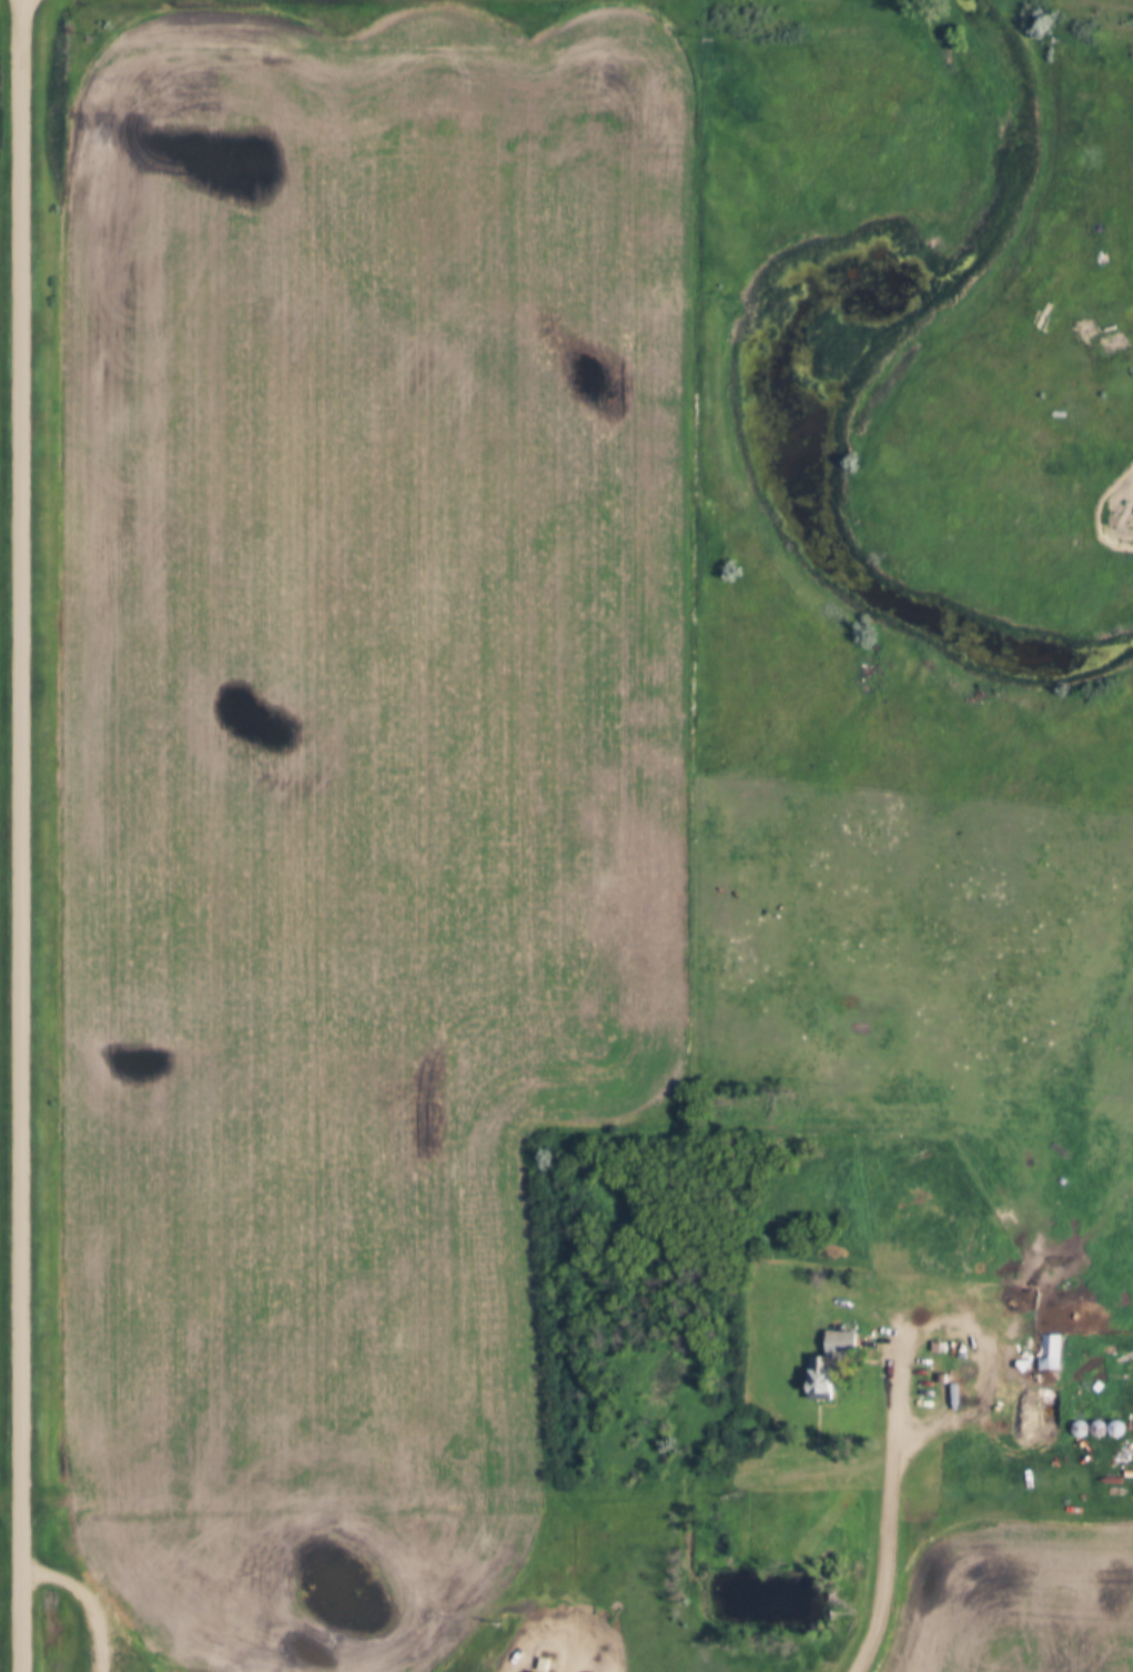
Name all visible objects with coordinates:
road: (1106, 497)
road: (26, 836)
road: (965, 1321)
building: (1044, 1356)
building: (827, 1364)
road: (888, 1574)
road: (88, 1598)

